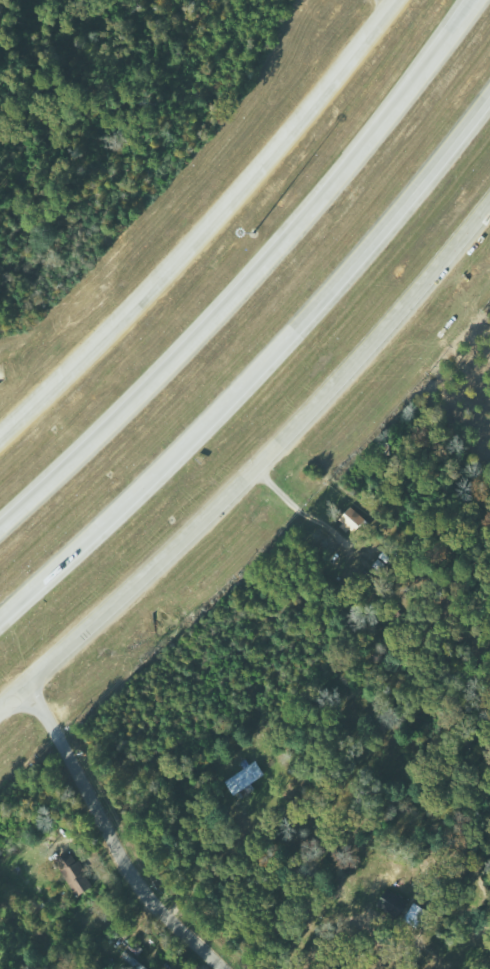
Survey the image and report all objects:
road: (202, 232)
road: (251, 278)
road: (256, 365)
road: (257, 460)
building: (350, 519)
building: (245, 777)
road: (106, 837)
building: (76, 873)
building: (415, 915)

